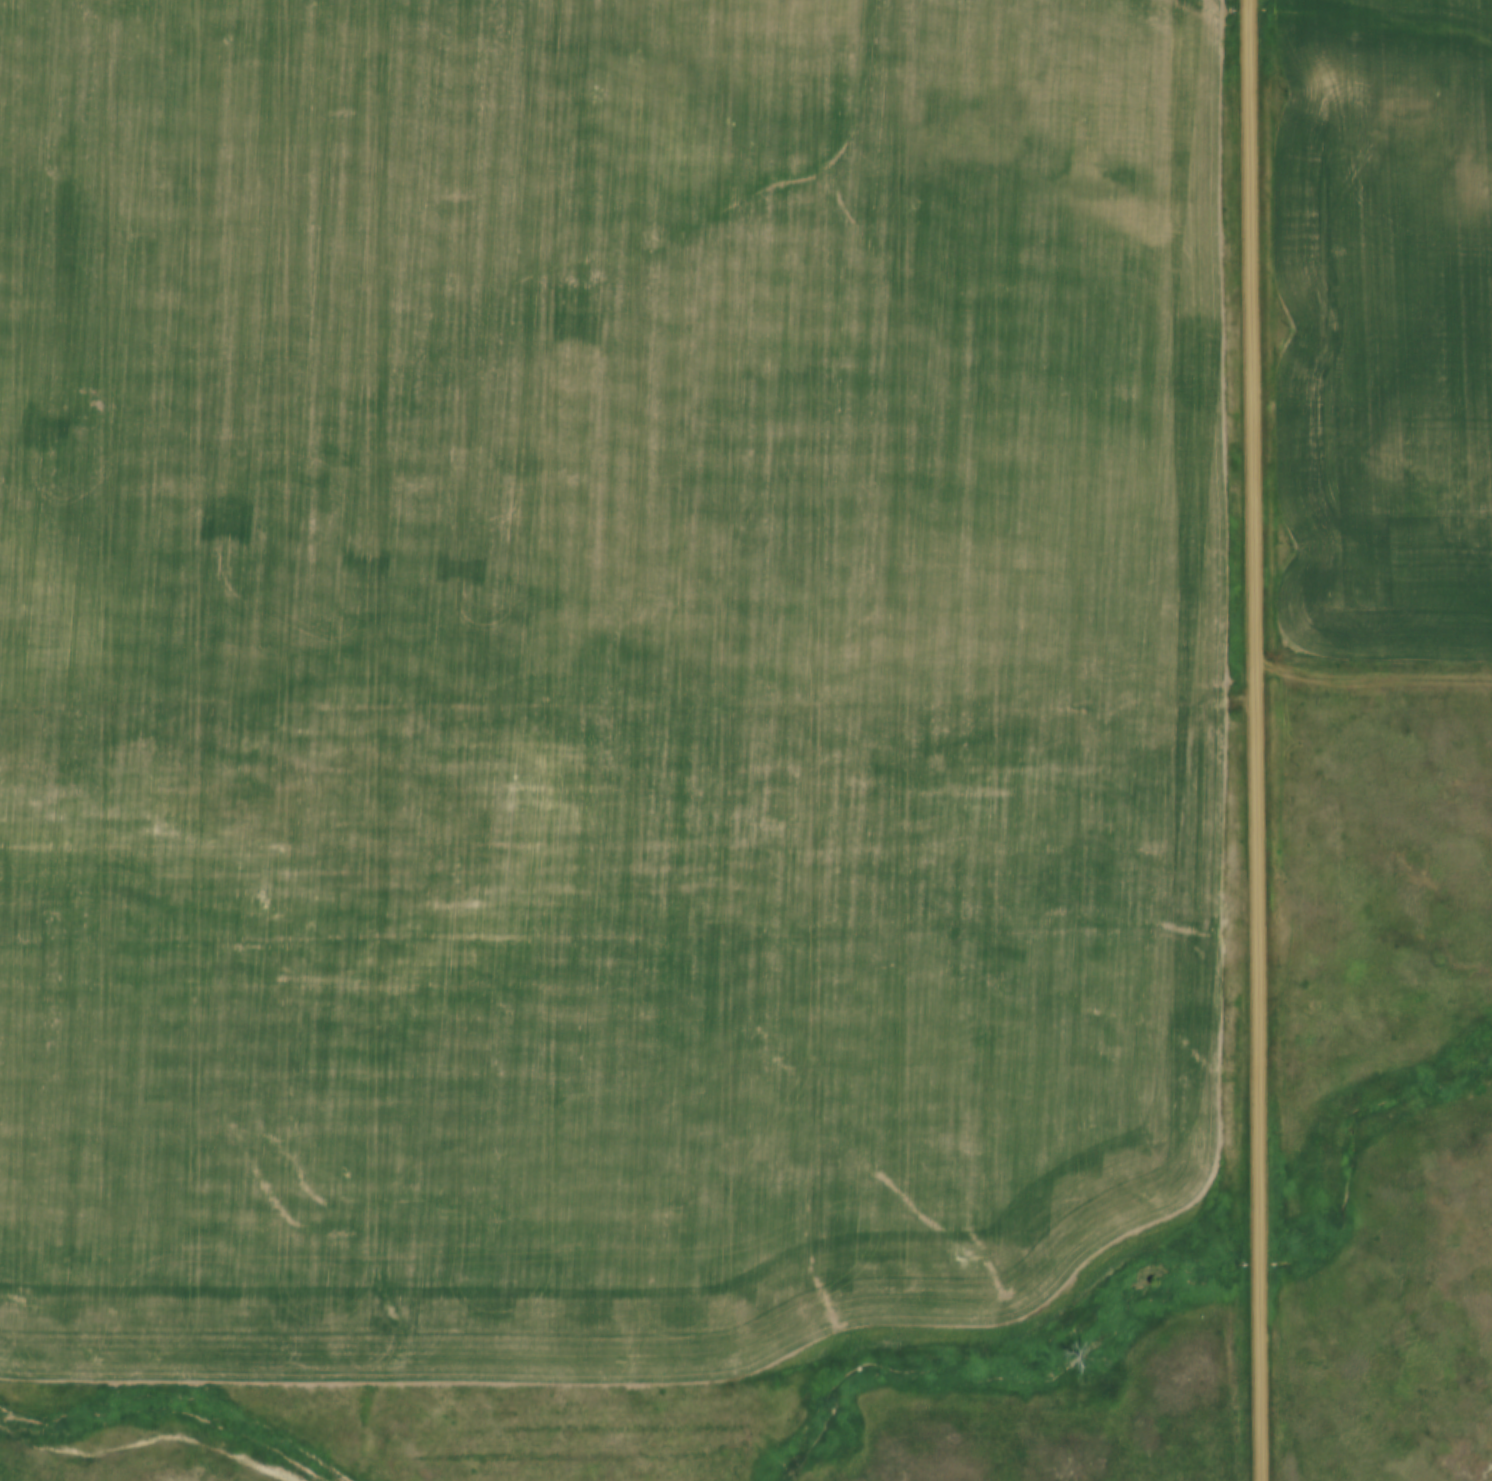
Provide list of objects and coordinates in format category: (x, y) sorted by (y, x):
road: (1370, 687)
road: (1258, 740)

